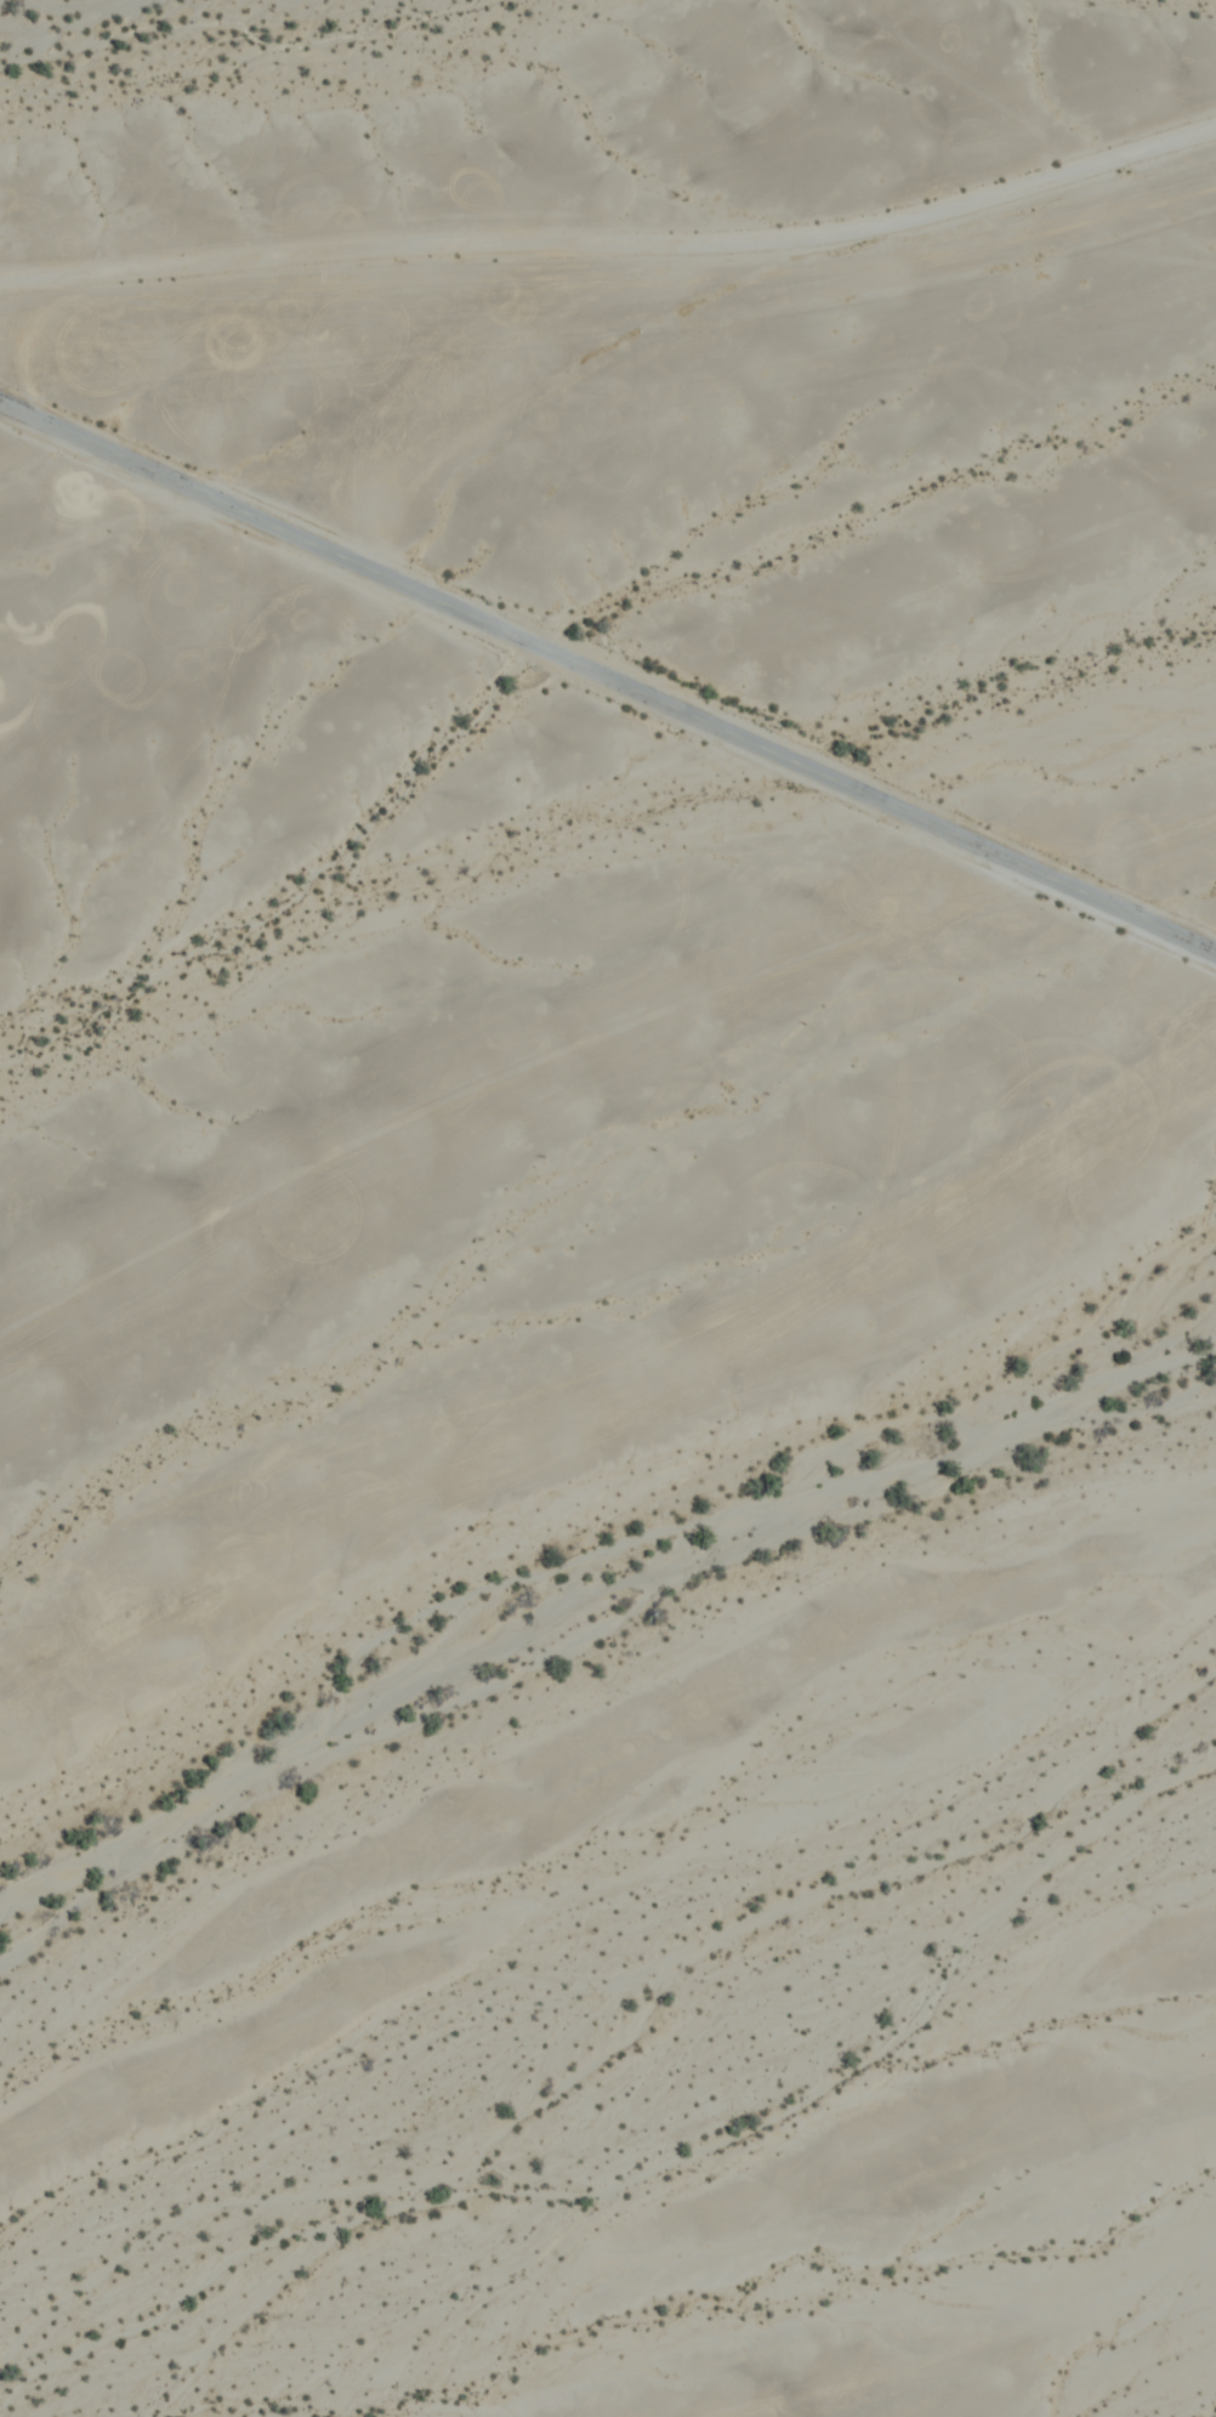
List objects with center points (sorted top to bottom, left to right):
road: (612, 244)
road: (608, 677)

